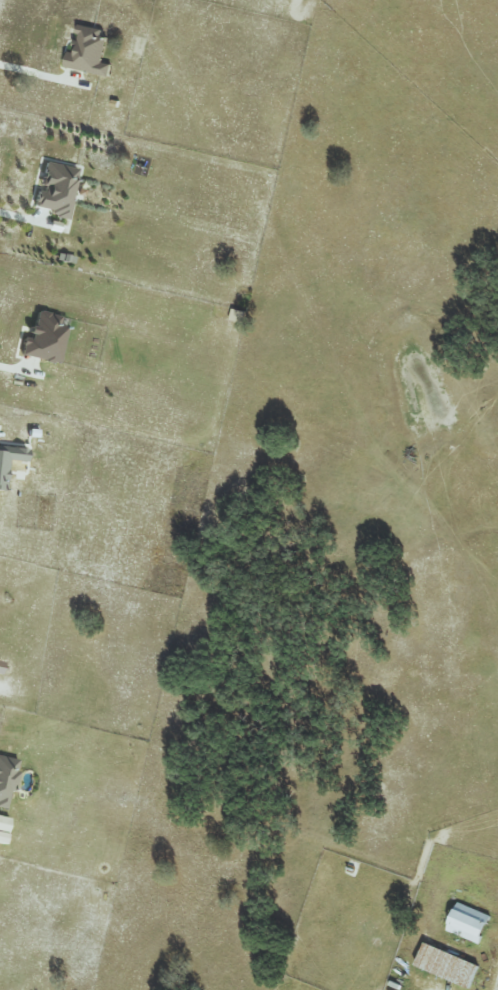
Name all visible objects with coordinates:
building: (87, 52)
road: (33, 75)
building: (43, 337)
road: (13, 372)
building: (9, 458)
building: (5, 779)
building: (3, 823)
building: (467, 922)
building: (446, 965)
road: (497, 986)

